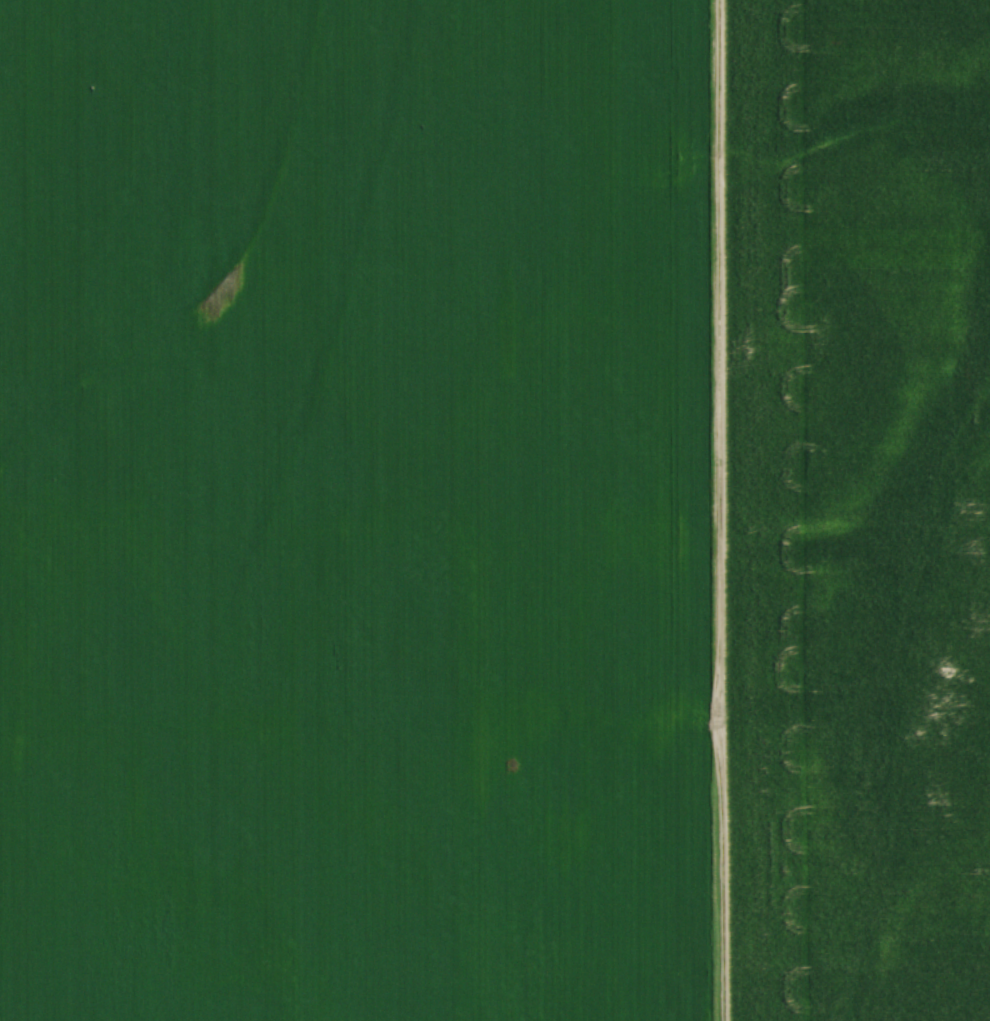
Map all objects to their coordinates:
road: (713, 510)

